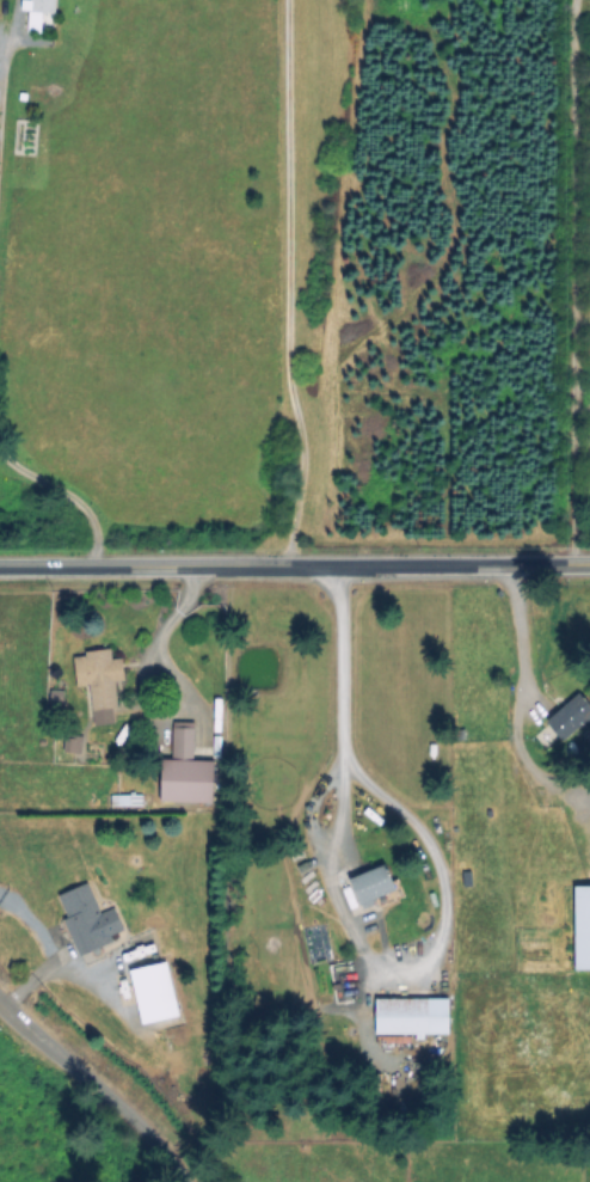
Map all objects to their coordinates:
building: (42, 7)
road: (0, 55)
road: (288, 280)
road: (567, 288)
road: (64, 494)
road: (294, 561)
road: (515, 627)
road: (156, 639)
building: (97, 678)
building: (569, 717)
building: (184, 770)
building: (371, 886)
road: (338, 918)
building: (86, 920)
building: (580, 929)
building: (152, 993)
building: (410, 1017)
road: (96, 1086)

